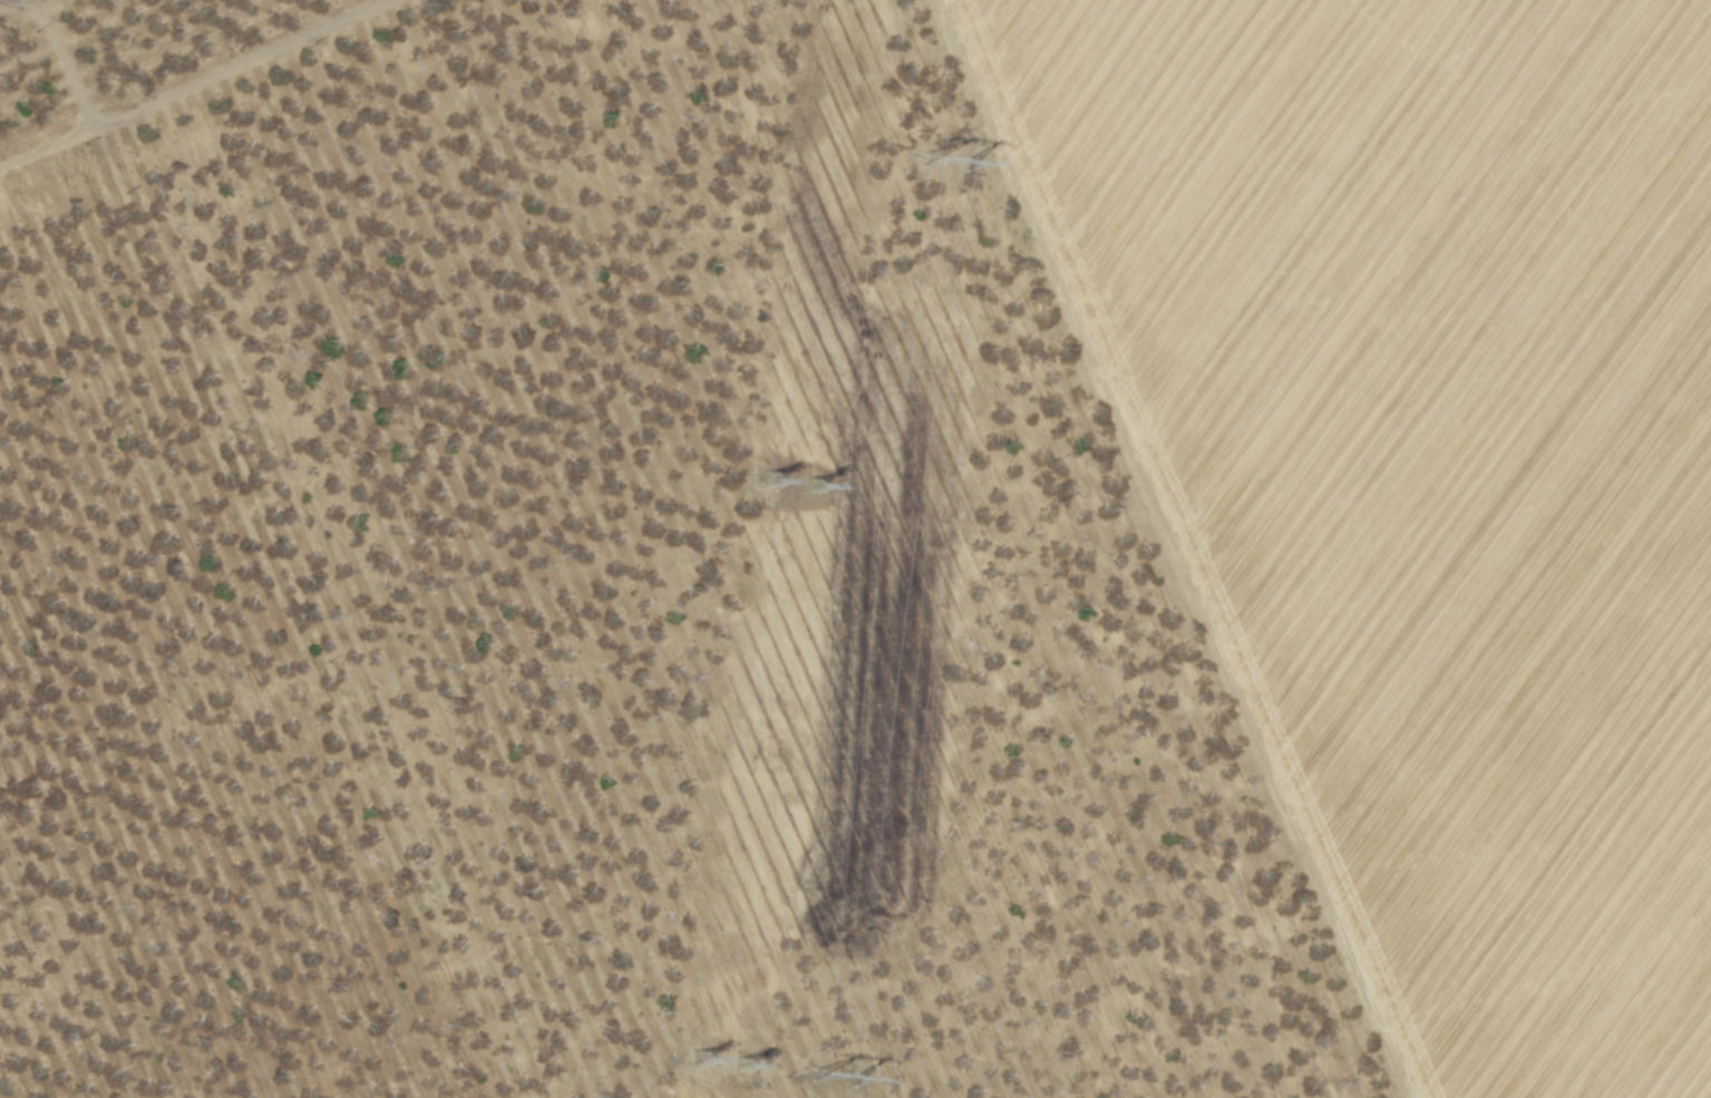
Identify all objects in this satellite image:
road: (42, 12)
road: (56, 59)
road: (192, 87)
power tower: (950, 164)
power tower: (768, 482)
power tower: (813, 484)
road: (1177, 546)
power tower: (700, 1061)
power tower: (741, 1066)
power tower: (837, 1080)

